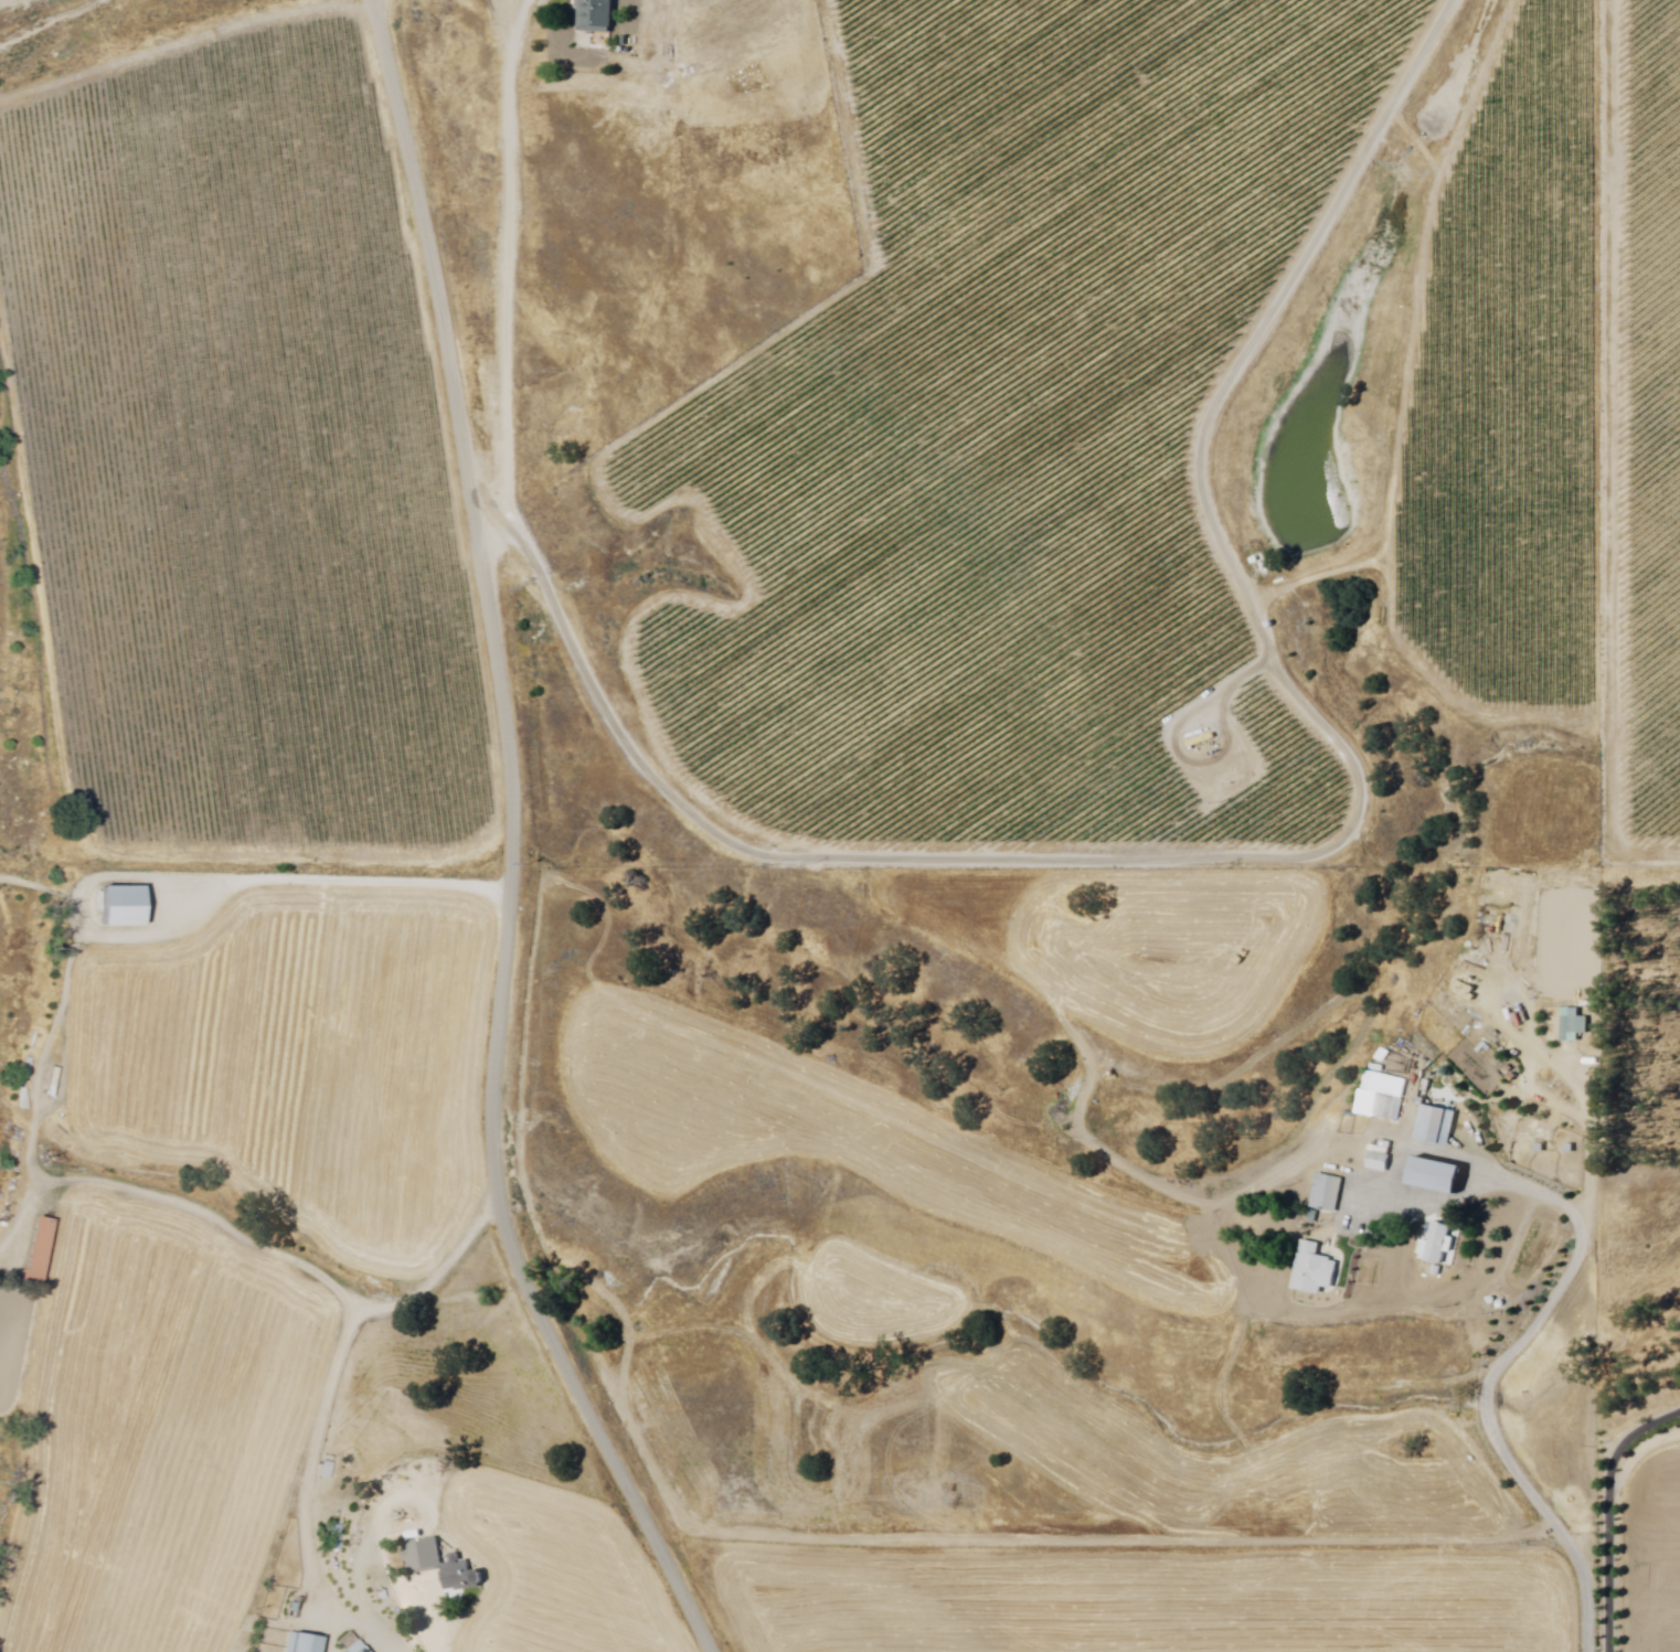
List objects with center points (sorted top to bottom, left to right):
building: (598, 17)
road: (507, 273)
crop: (1252, 298)
crop: (243, 457)
road: (508, 844)
building: (123, 910)
building: (1575, 1025)
crop: (306, 1059)
building: (1389, 1109)
building: (1436, 1128)
building: (1542, 1150)
building: (1571, 1150)
building: (1381, 1160)
building: (1438, 1180)
building: (1328, 1194)
building: (1438, 1246)
building: (1317, 1272)
building: (1444, 1273)
storage tank: (1495, 1301)
storage tank: (1502, 1304)
road: (1531, 1332)
road: (326, 1400)
crop: (158, 1428)
building: (328, 1469)
road: (1609, 1515)
building: (338, 1535)
building: (423, 1555)
building: (460, 1573)
crop: (555, 1574)
building: (306, 1641)
building: (352, 1644)

